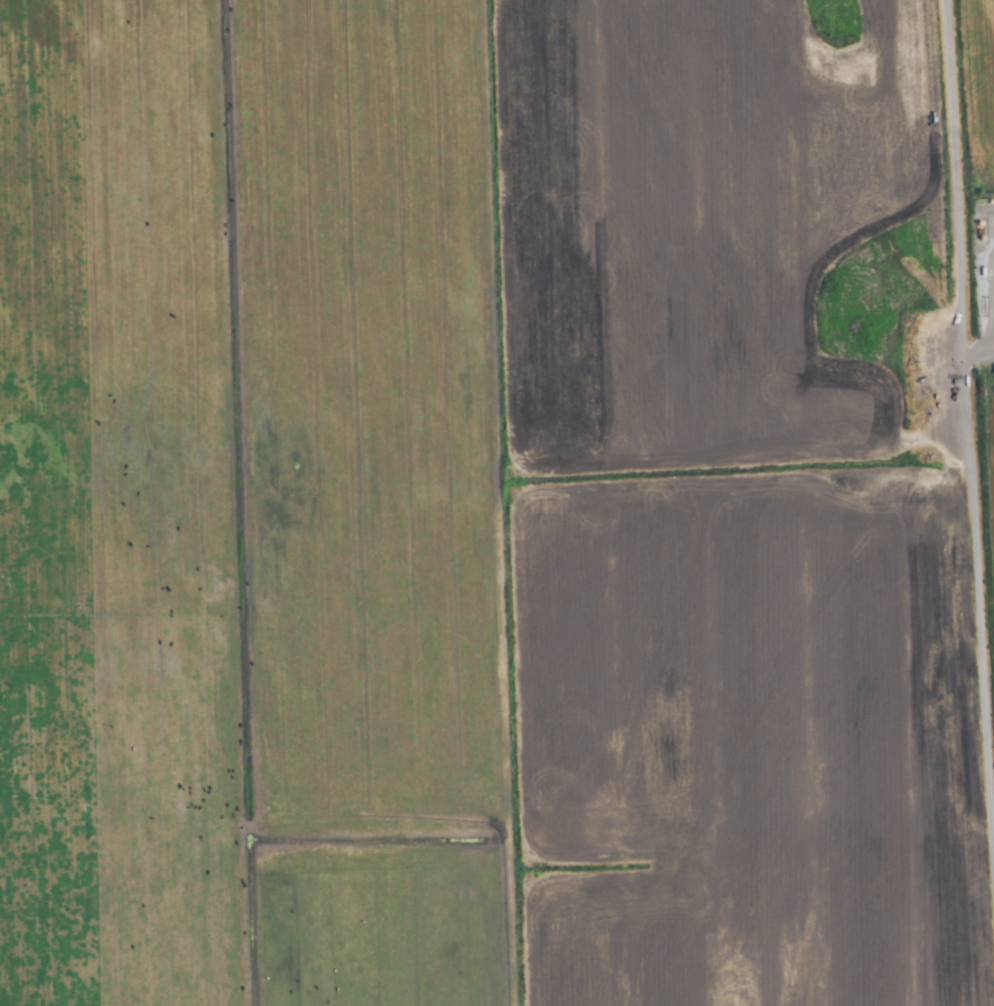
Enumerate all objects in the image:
road: (967, 441)
crop: (497, 503)

